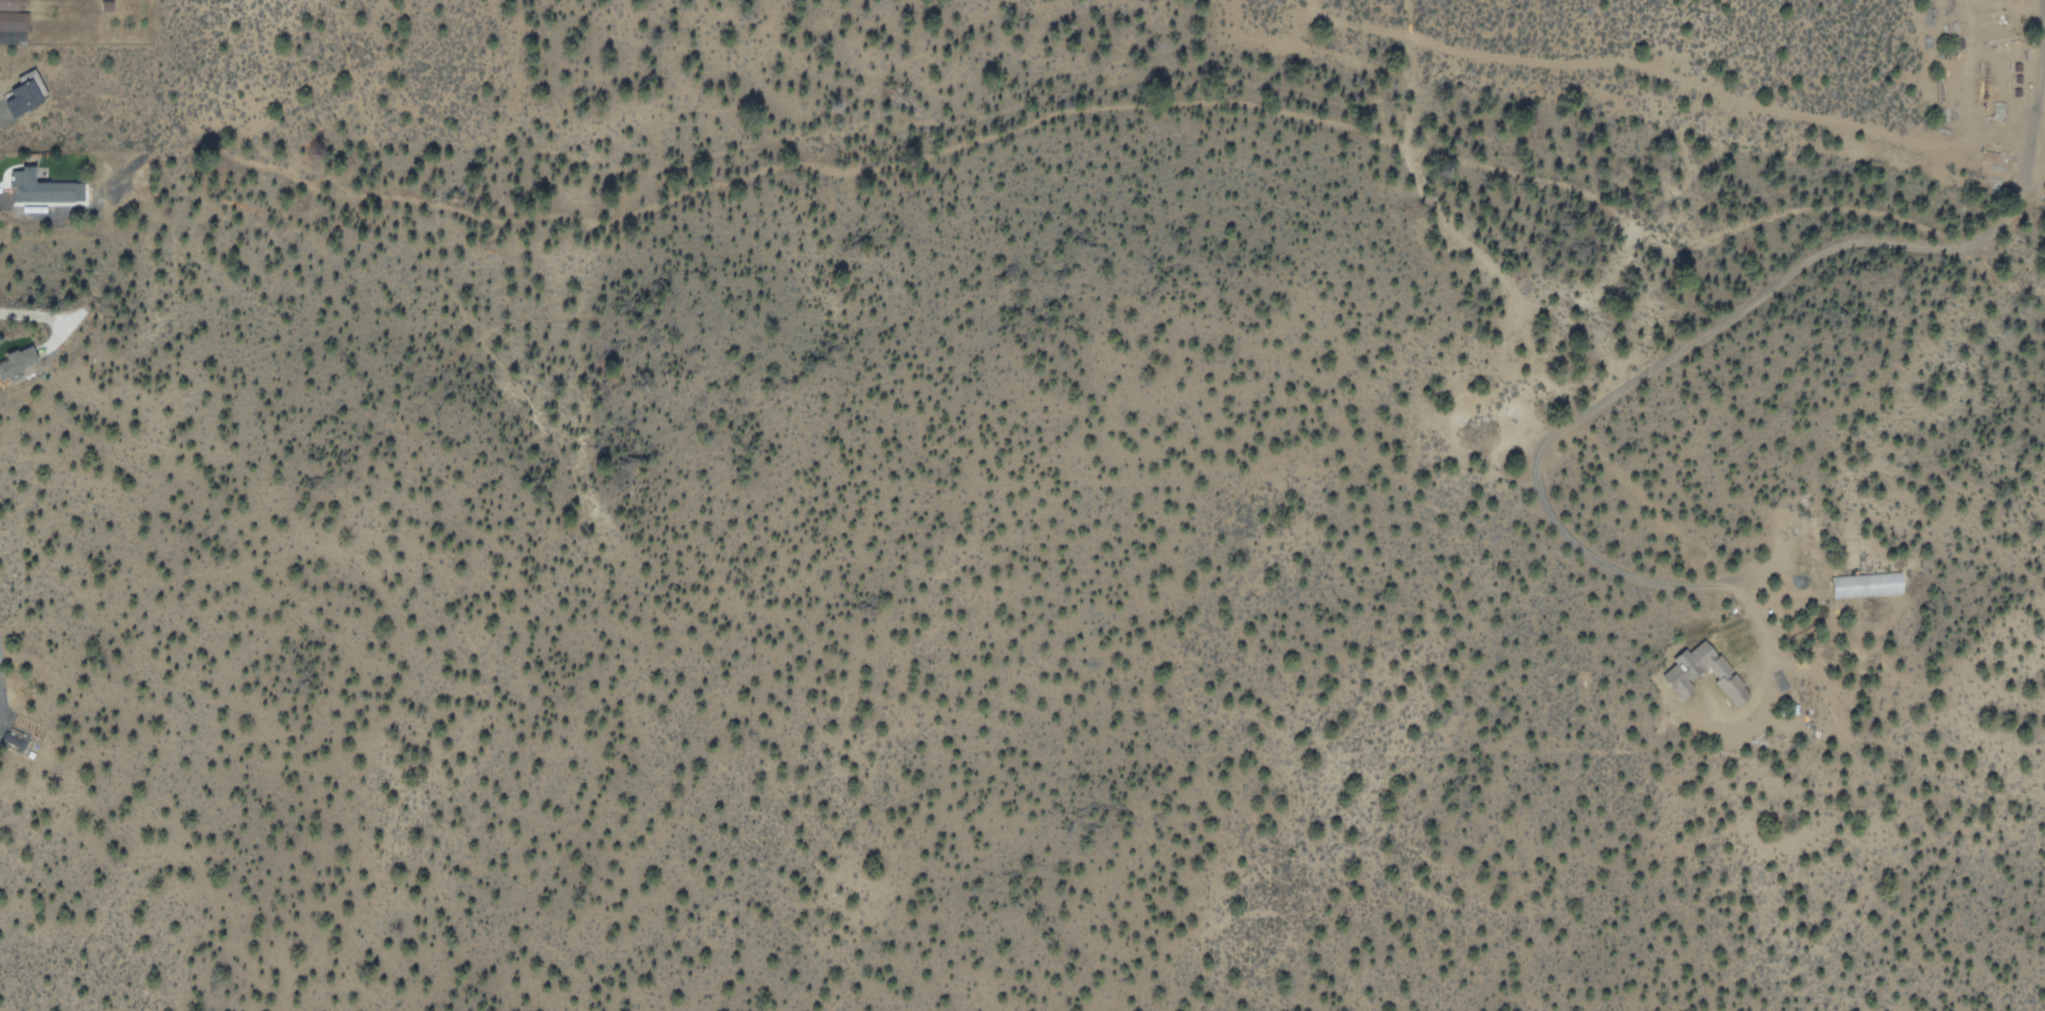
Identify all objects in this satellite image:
building: (6, 5)
building: (14, 96)
building: (17, 361)
building: (1861, 584)
building: (1676, 670)

